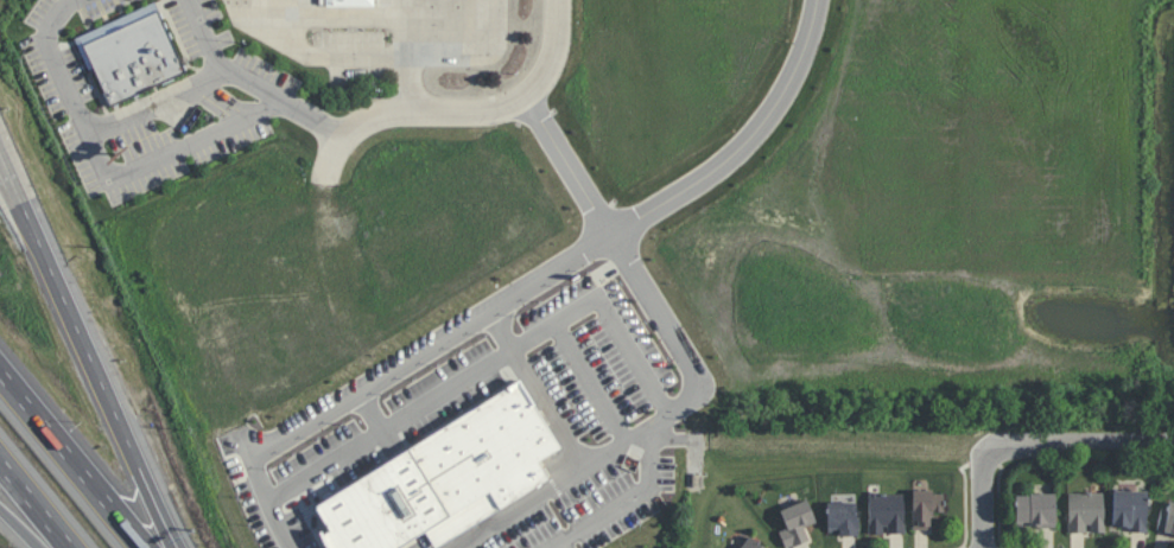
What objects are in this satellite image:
building: (348, 2)
road: (321, 19)
road: (406, 21)
building: (131, 55)
road: (216, 65)
road: (151, 98)
road: (467, 109)
road: (312, 120)
road: (744, 142)
road: (570, 164)
road: (104, 168)
road: (61, 268)
road: (491, 362)
road: (389, 371)
road: (680, 407)
road: (372, 412)
road: (553, 420)
road: (139, 441)
road: (1079, 444)
road: (78, 451)
building: (444, 477)
road: (984, 496)
road: (38, 499)
road: (516, 506)
building: (926, 508)
building: (1035, 510)
building: (1129, 510)
building: (1086, 511)
building: (886, 512)
road: (173, 514)
building: (842, 517)
building: (1167, 517)
road: (28, 521)
building: (797, 523)
building: (751, 543)

